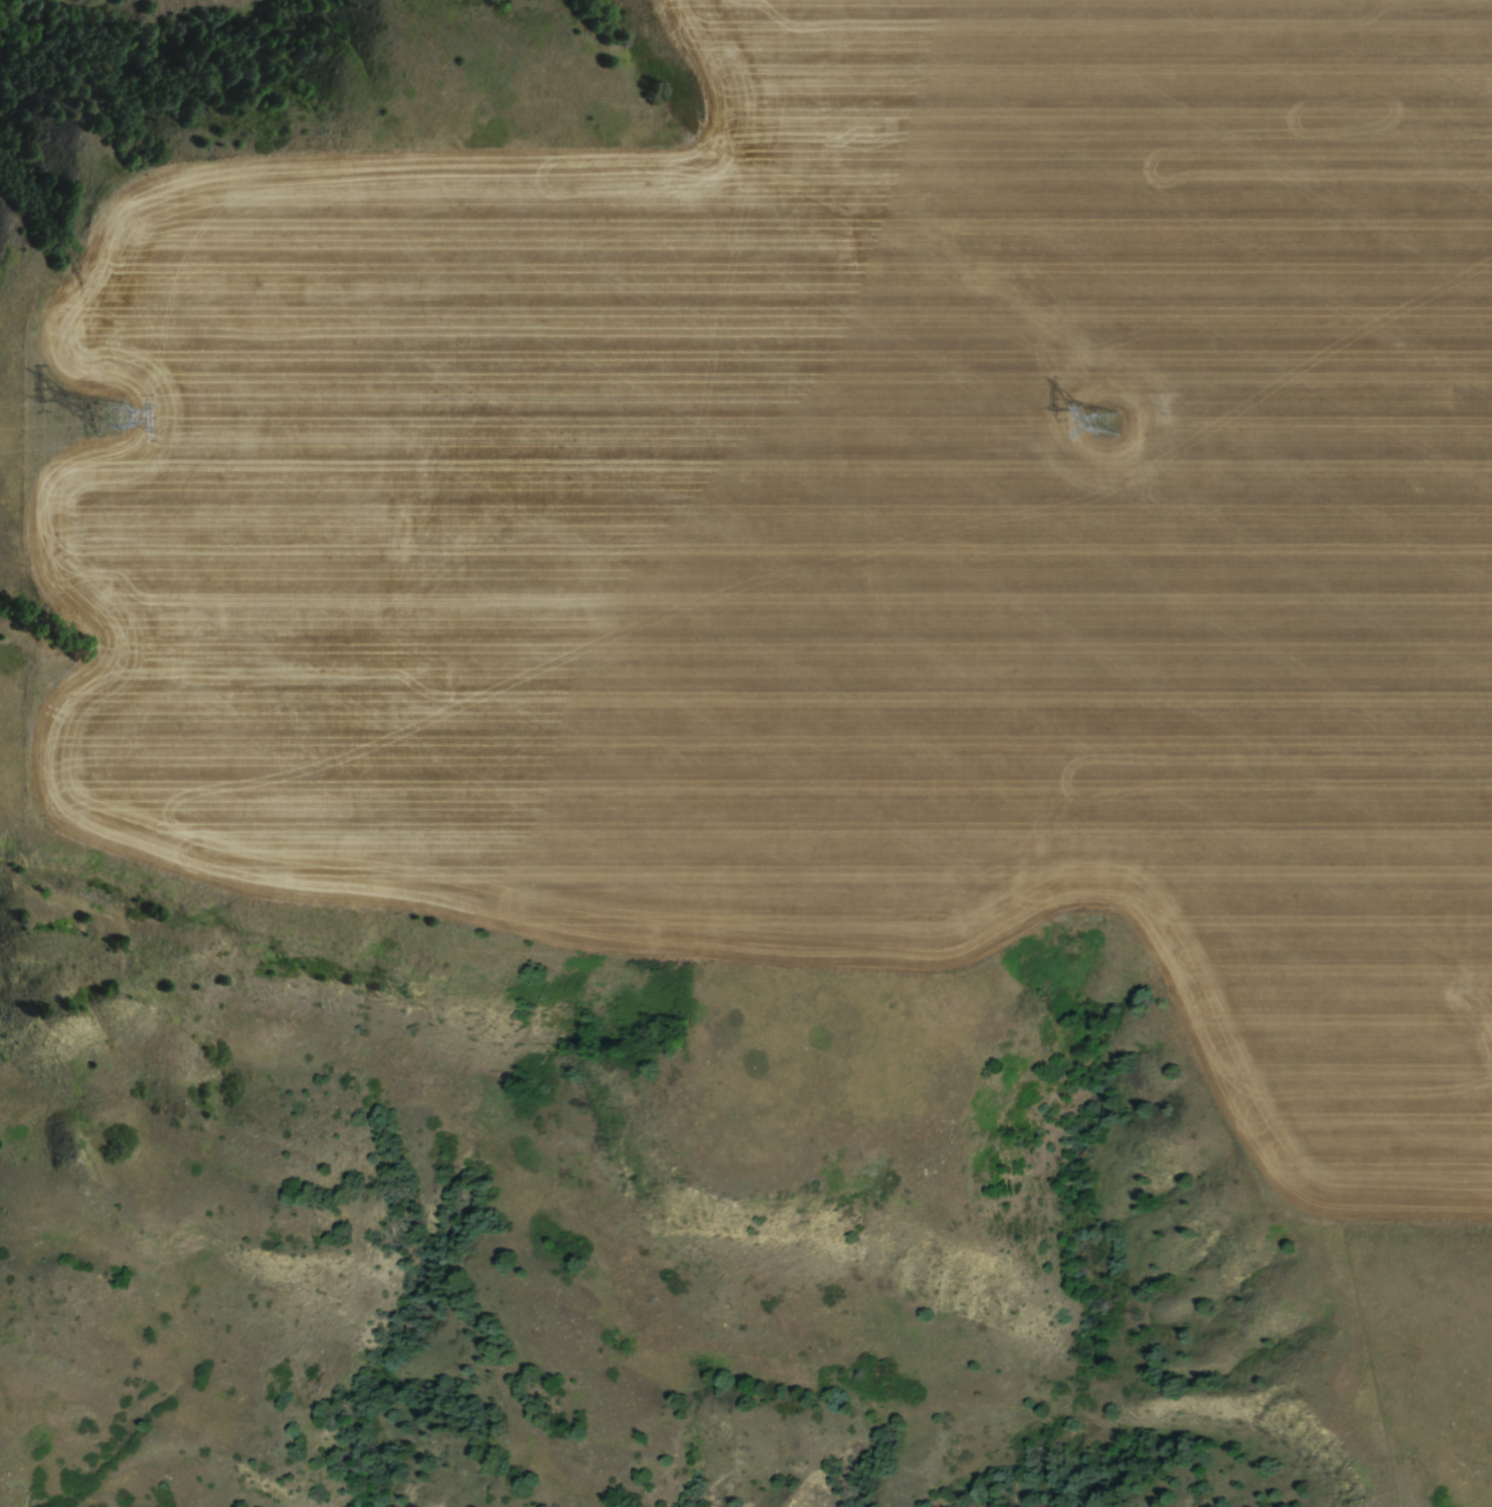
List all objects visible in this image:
power tower: (107, 416)
power tower: (1105, 424)

